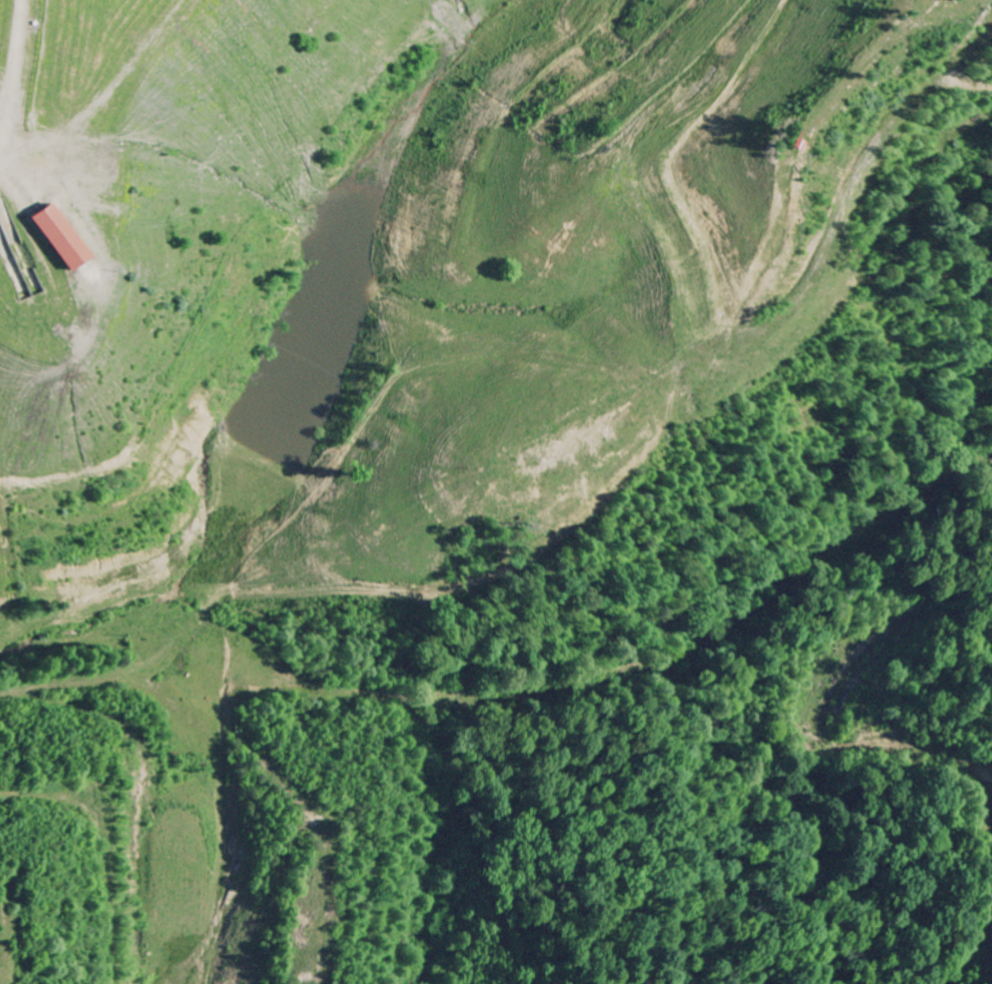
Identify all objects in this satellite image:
building: (56, 238)

